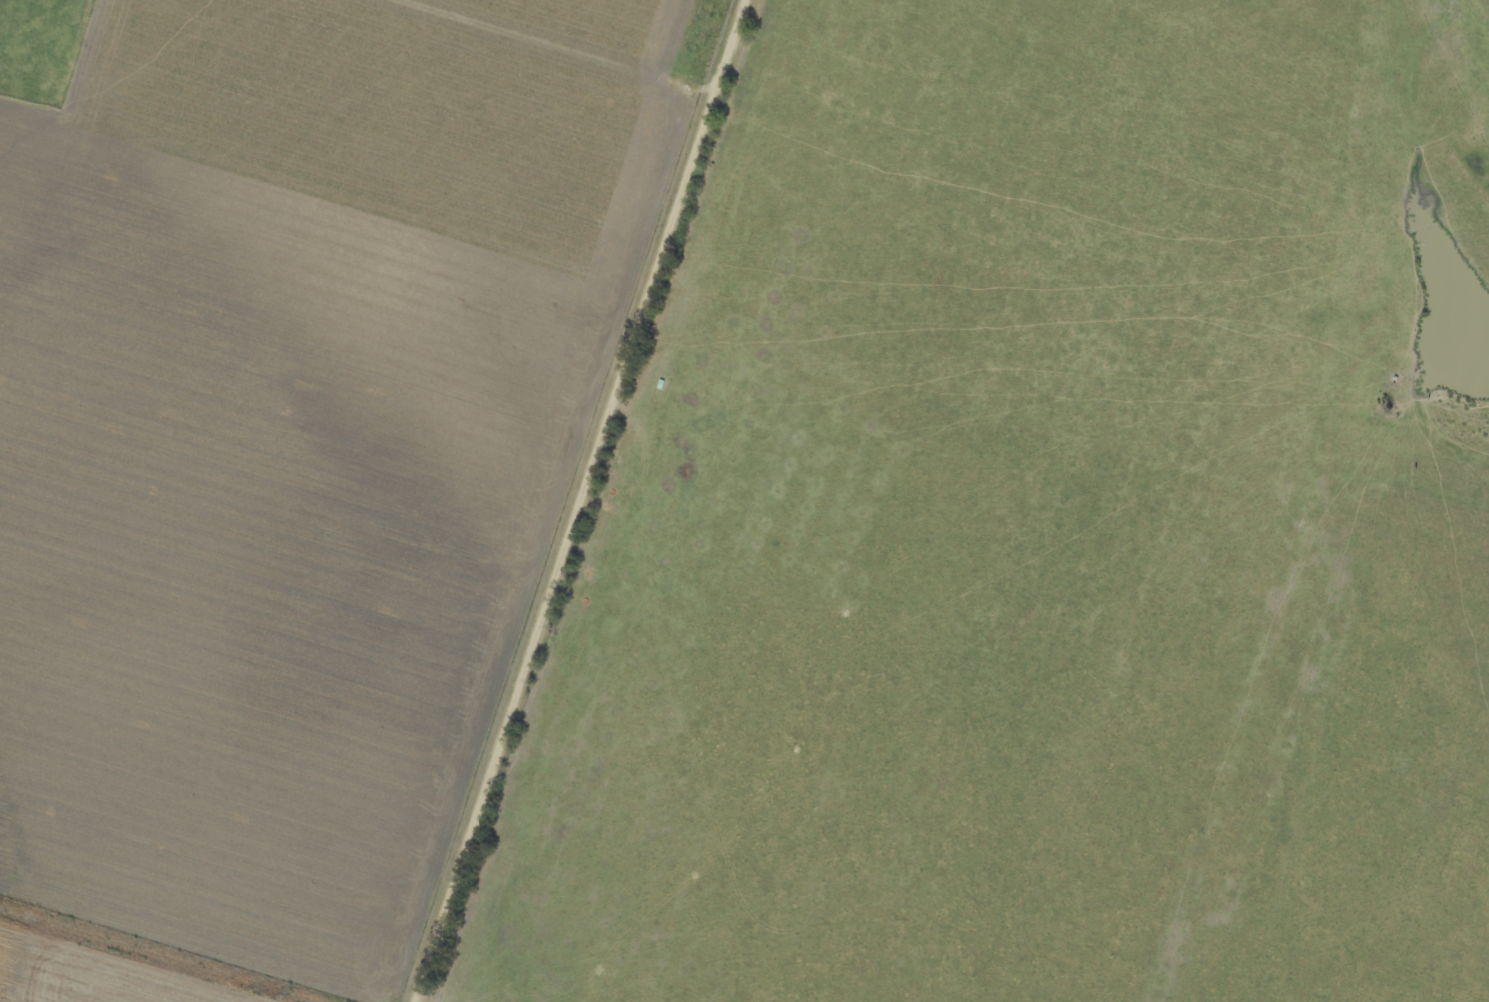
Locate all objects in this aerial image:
road: (604, 501)

